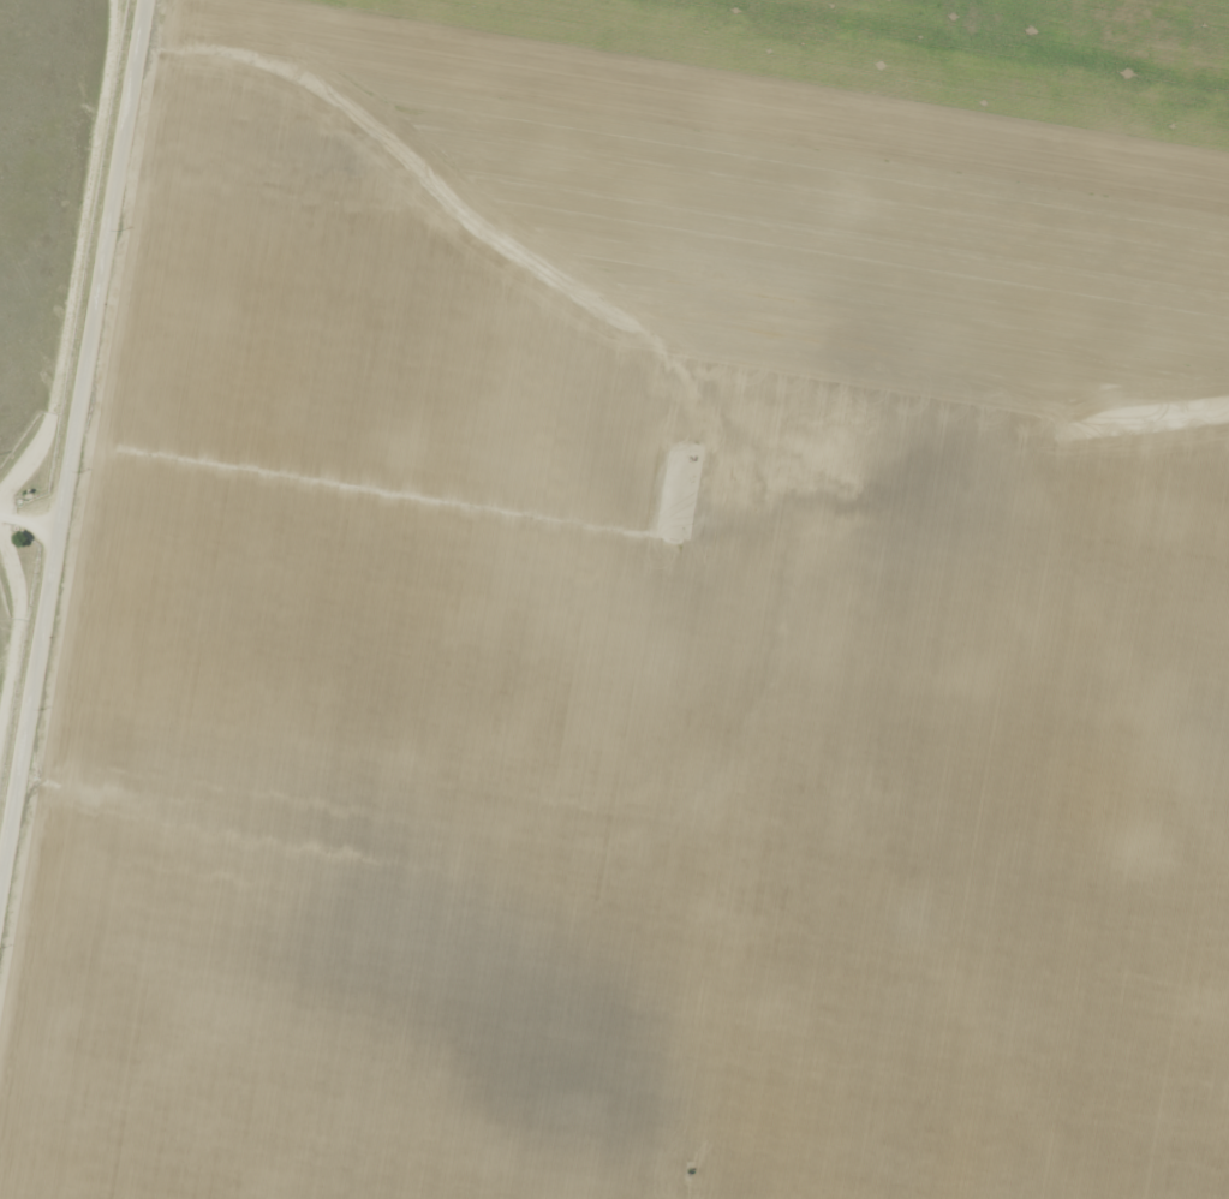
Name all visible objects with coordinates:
road: (679, 102)
road: (65, 419)

